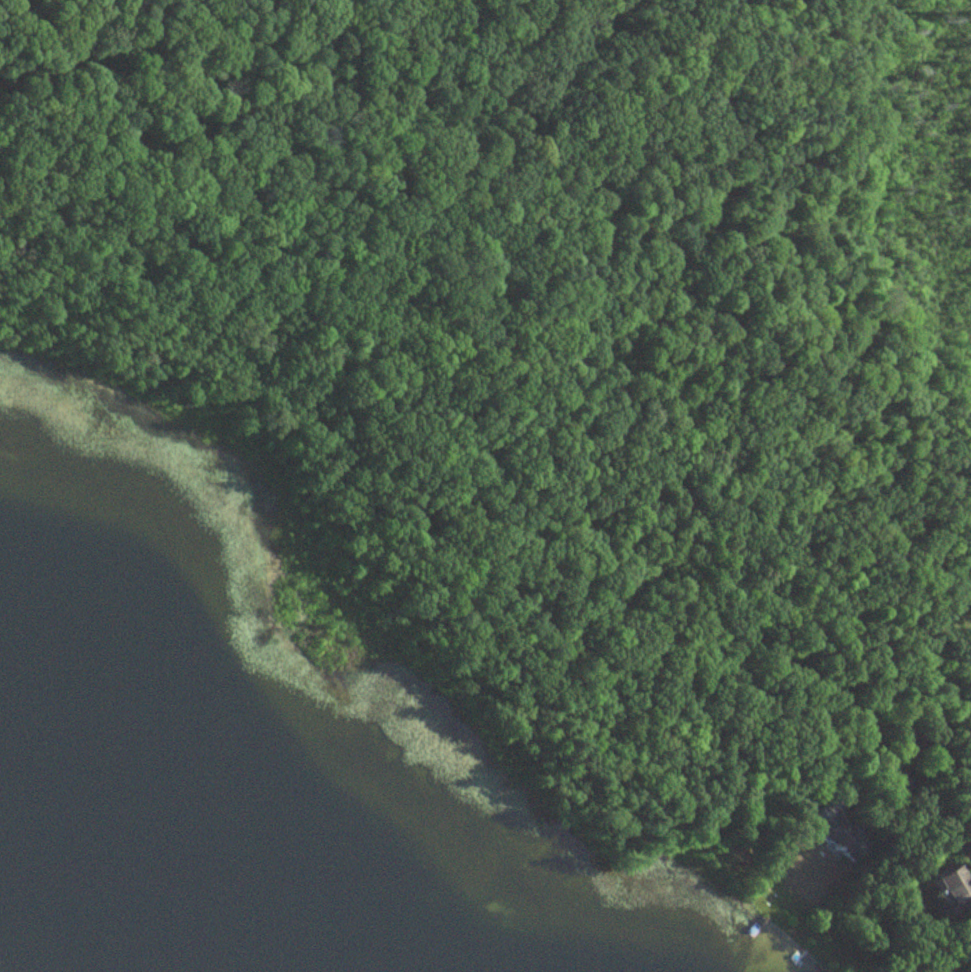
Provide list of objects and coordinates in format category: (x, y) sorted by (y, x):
road: (894, 721)
building: (899, 778)
building: (838, 833)
building: (970, 844)
building: (954, 889)

